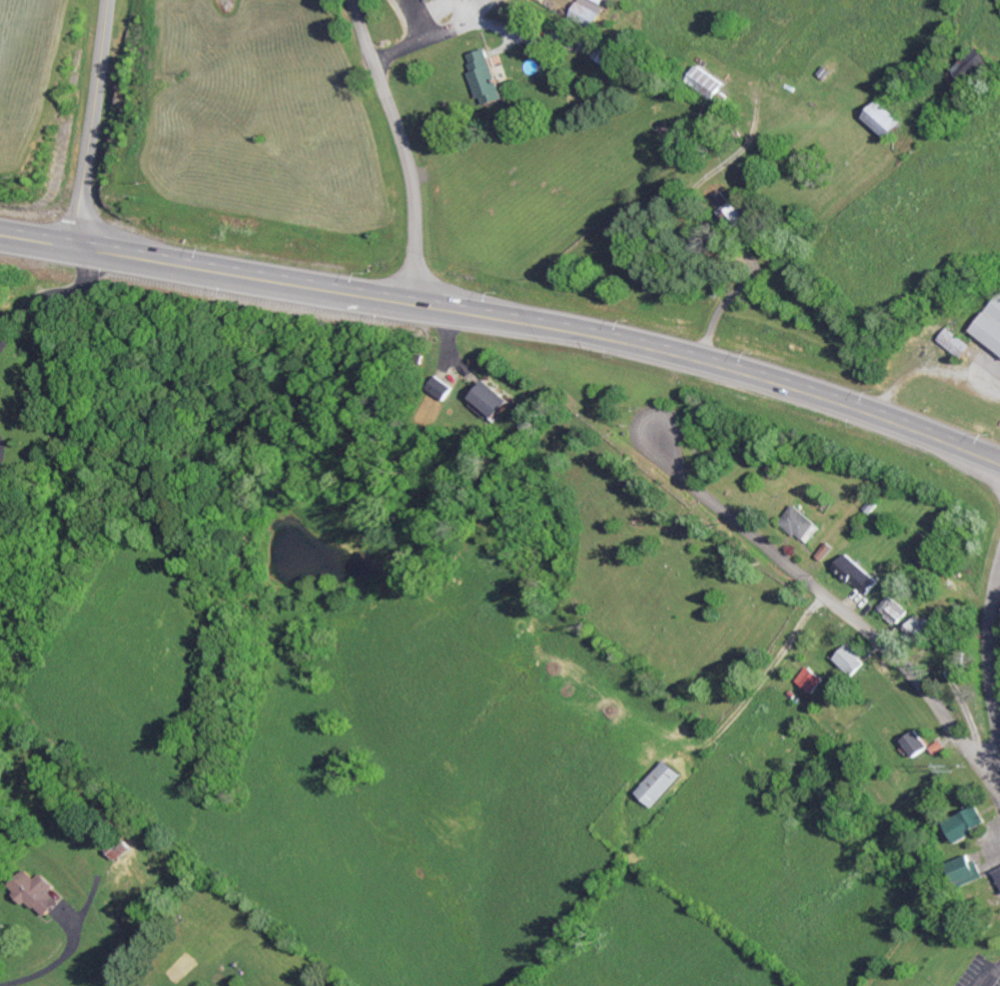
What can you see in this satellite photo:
building: (588, 10)
building: (605, 51)
building: (483, 75)
building: (708, 81)
building: (887, 118)
road: (83, 123)
road: (401, 148)
building: (728, 208)
road: (46, 291)
road: (507, 321)
building: (989, 322)
building: (953, 342)
building: (440, 386)
building: (492, 397)
road: (1, 451)
building: (797, 521)
building: (857, 573)
road: (820, 594)
building: (894, 609)
building: (921, 629)
road: (990, 654)
building: (849, 658)
building: (806, 679)
building: (916, 742)
building: (657, 783)
building: (967, 823)
building: (967, 870)
building: (998, 873)
building: (31, 892)

